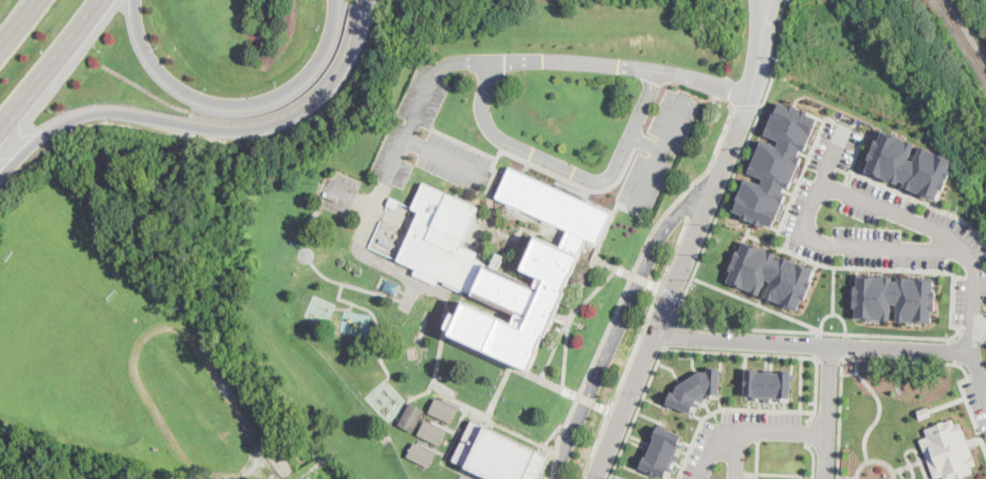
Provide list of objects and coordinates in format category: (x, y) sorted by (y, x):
road: (759, 12)
road: (769, 12)
road: (25, 15)
road: (363, 16)
railway: (964, 35)
road: (6, 38)
road: (779, 41)
road: (349, 59)
road: (591, 63)
road: (51, 64)
road: (766, 94)
road: (235, 103)
road: (644, 103)
road: (746, 106)
road: (162, 119)
road: (411, 123)
road: (646, 142)
road: (659, 153)
road: (536, 154)
road: (443, 156)
building: (775, 163)
building: (909, 164)
building: (393, 203)
road: (807, 208)
road: (672, 252)
road: (685, 253)
road: (802, 256)
building: (457, 269)
road: (902, 269)
building: (771, 274)
road: (627, 284)
building: (392, 286)
road: (670, 293)
building: (894, 297)
road: (758, 303)
road: (835, 312)
road: (624, 321)
road: (971, 322)
road: (712, 326)
road: (672, 328)
road: (817, 343)
road: (812, 344)
road: (847, 345)
road: (200, 351)
road: (703, 351)
road: (830, 358)
road: (892, 359)
road: (856, 364)
road: (619, 382)
building: (767, 383)
building: (695, 389)
track: (193, 402)
road: (949, 402)
road: (879, 406)
building: (443, 411)
road: (827, 412)
building: (925, 412)
building: (411, 417)
road: (783, 430)
road: (806, 432)
building: (432, 433)
road: (910, 448)
road: (711, 449)
building: (948, 449)
building: (662, 451)
building: (421, 455)
building: (500, 455)
road: (735, 455)
road: (876, 459)
road: (813, 460)
road: (909, 465)
road: (900, 473)
road: (847, 476)

